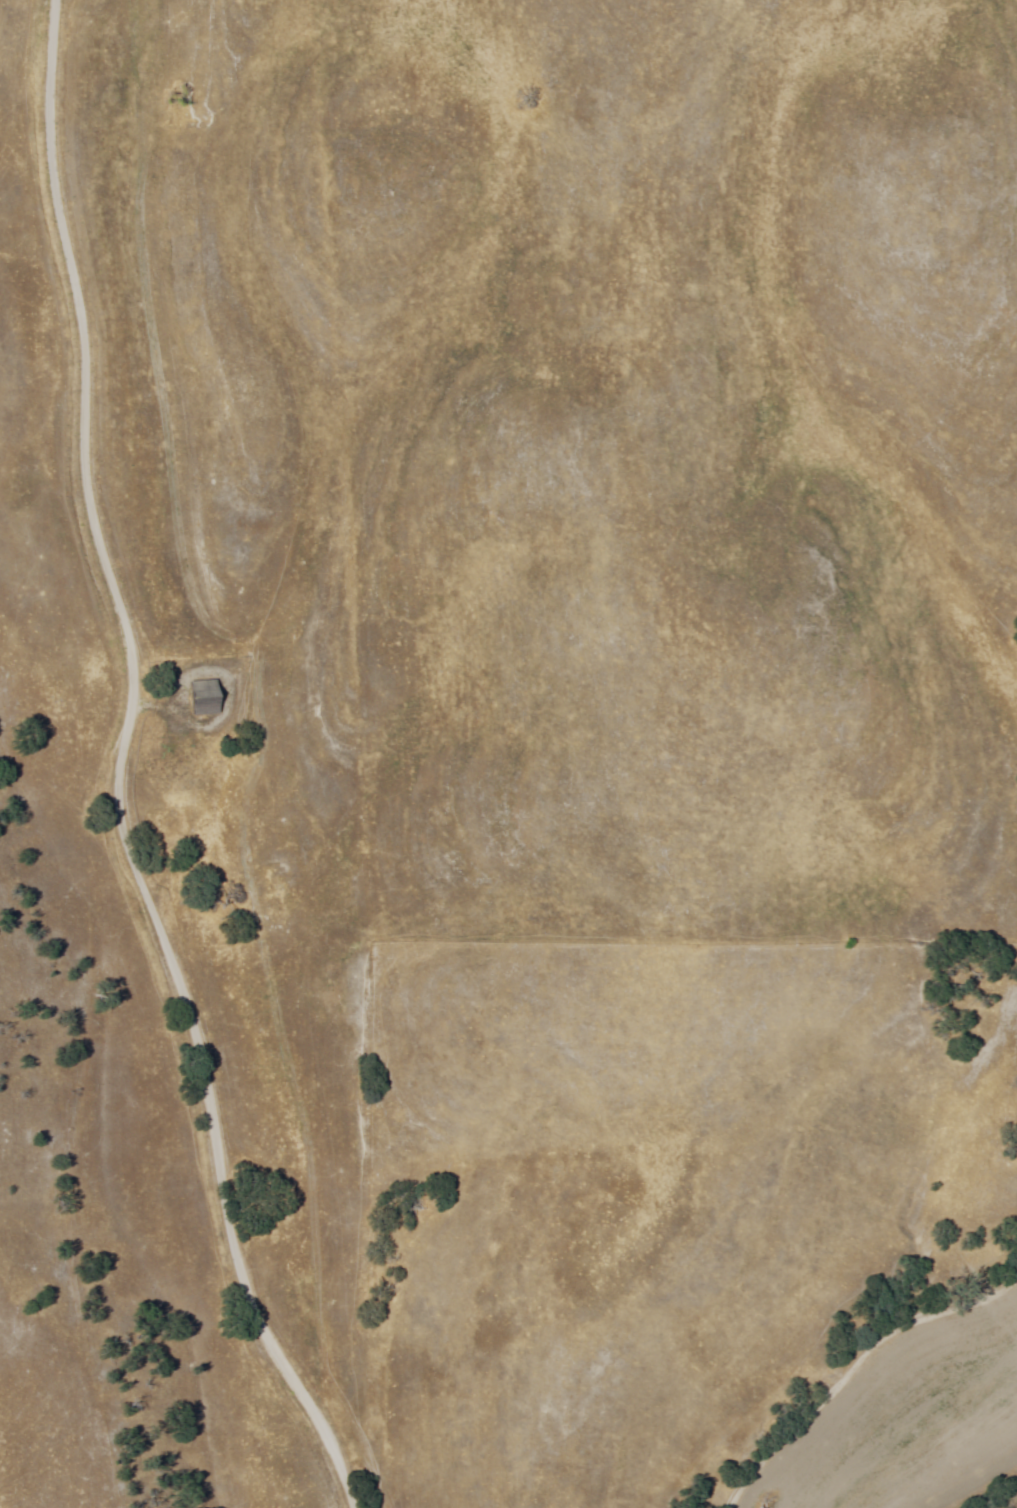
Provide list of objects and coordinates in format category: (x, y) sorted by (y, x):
road: (125, 769)
building: (284, 888)
road: (851, 1356)

